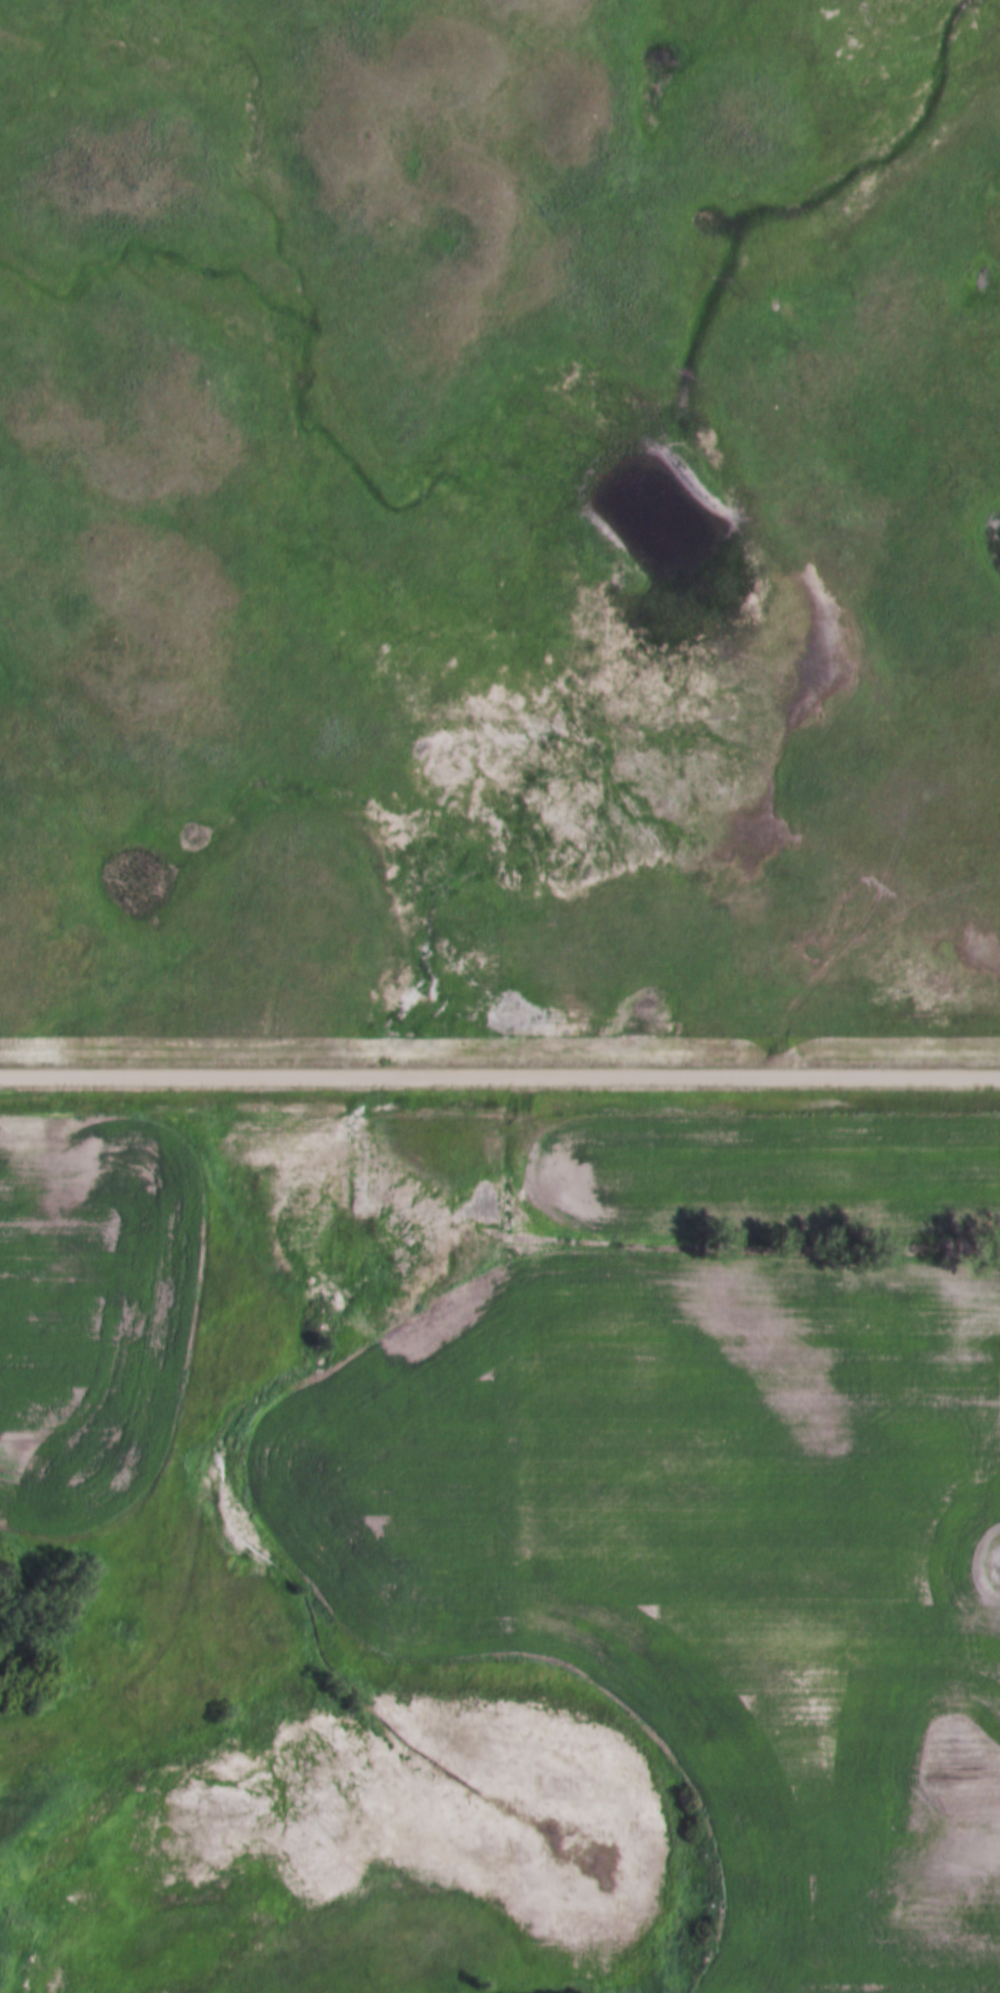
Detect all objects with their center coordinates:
road: (500, 1079)

